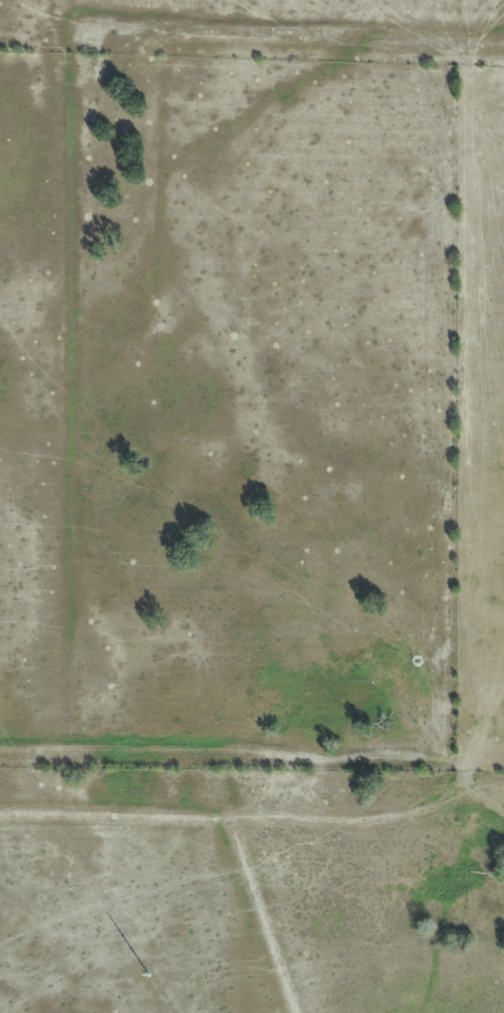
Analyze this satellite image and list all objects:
power tower: (150, 974)

